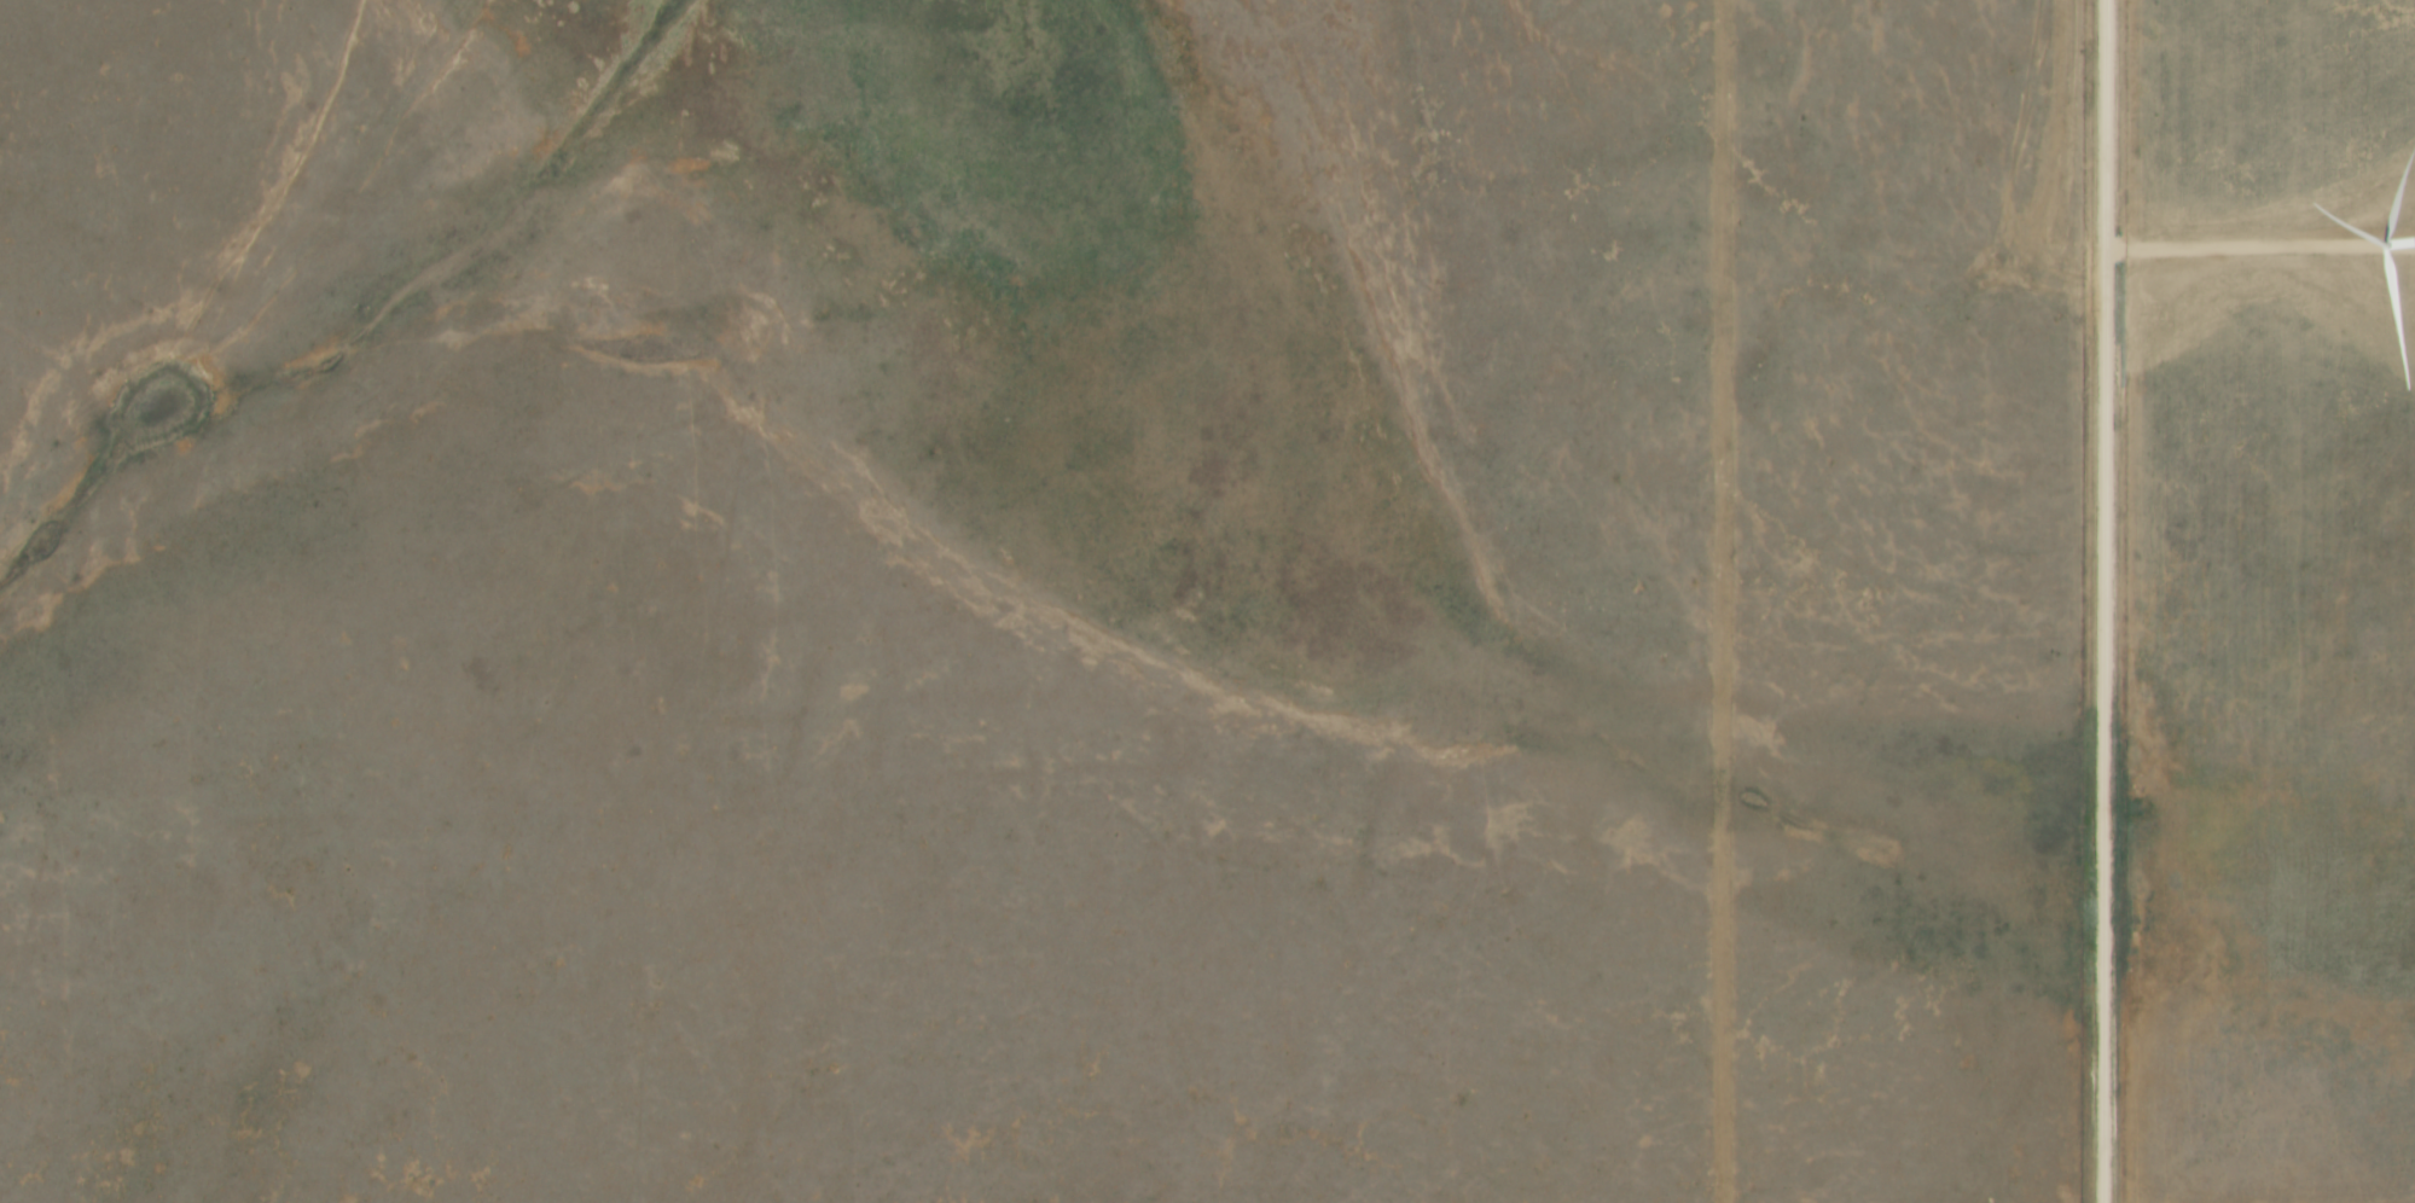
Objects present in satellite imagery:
road: (2260, 250)
road: (2105, 601)

